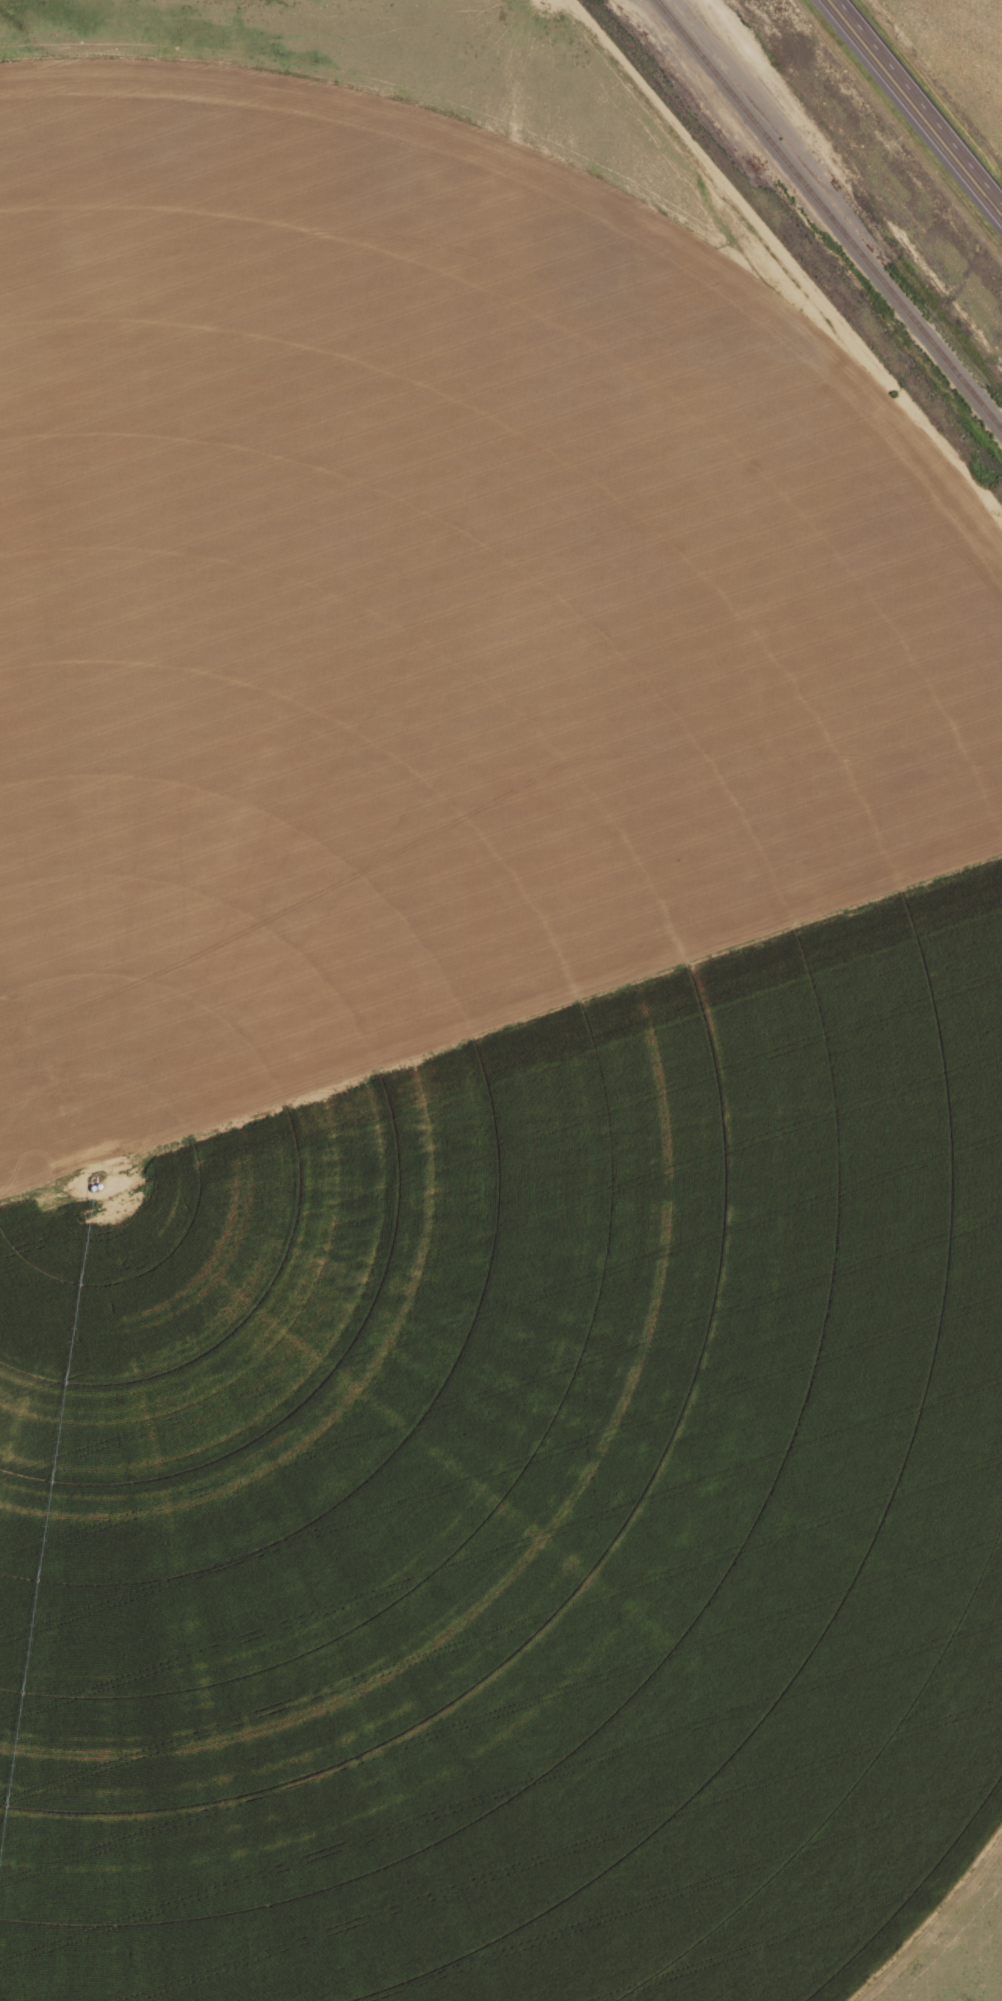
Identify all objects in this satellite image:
road: (919, 102)
railway: (827, 216)

